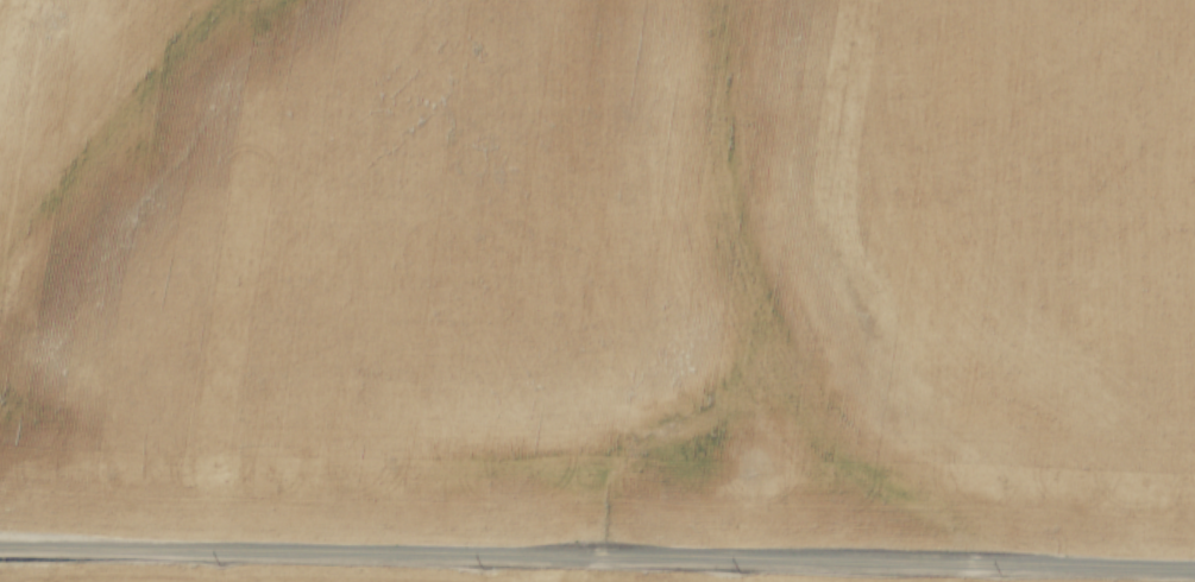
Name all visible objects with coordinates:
road: (597, 567)

